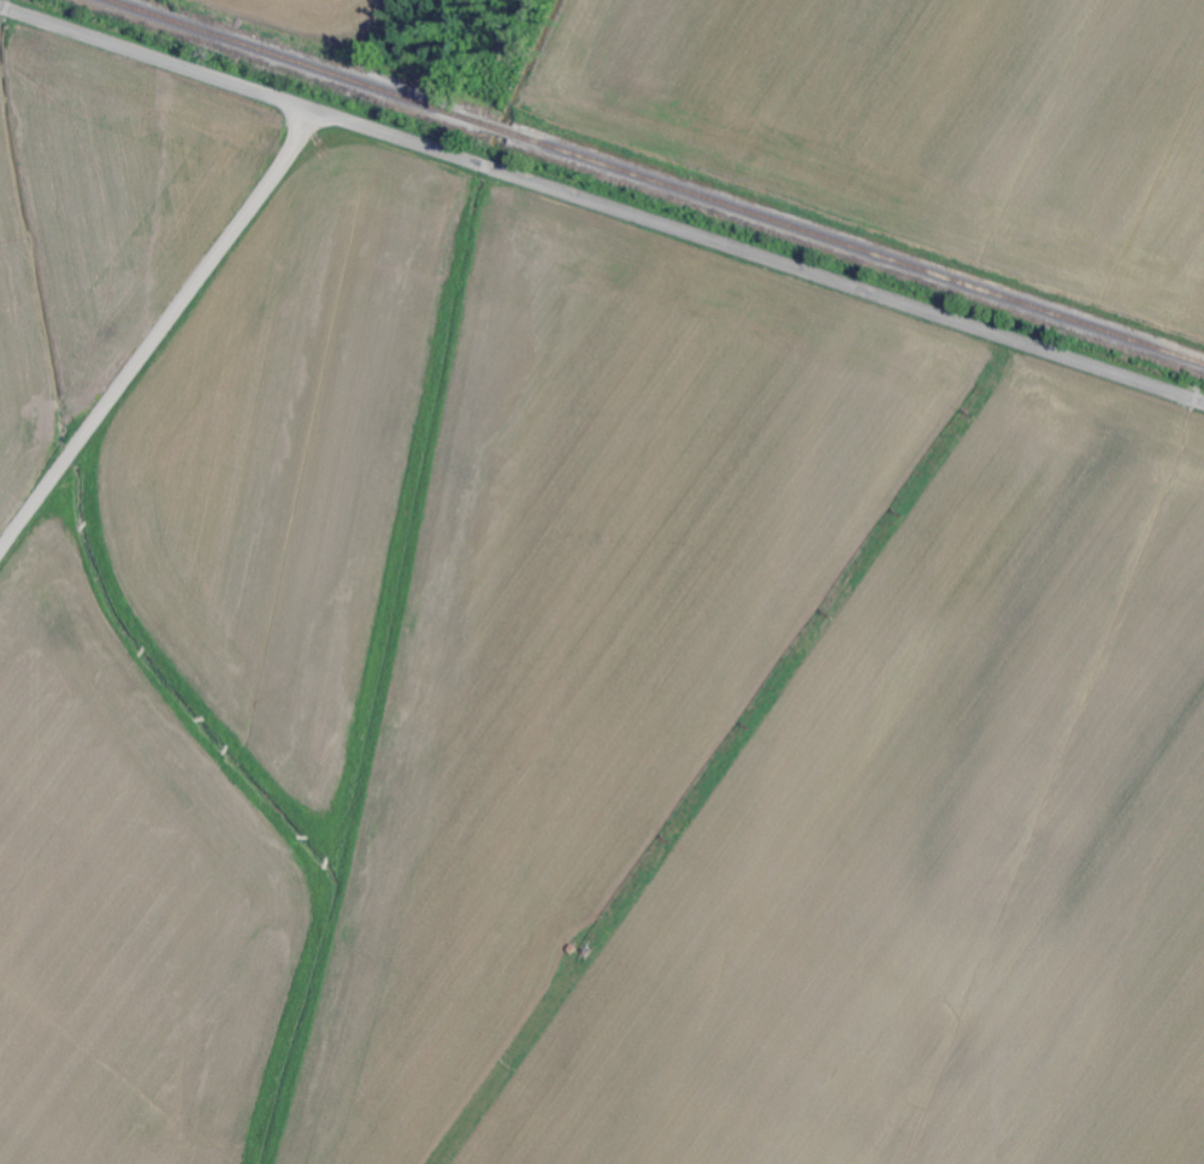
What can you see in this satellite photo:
railway: (657, 181)
road: (601, 205)
road: (161, 332)
road: (14, 451)

